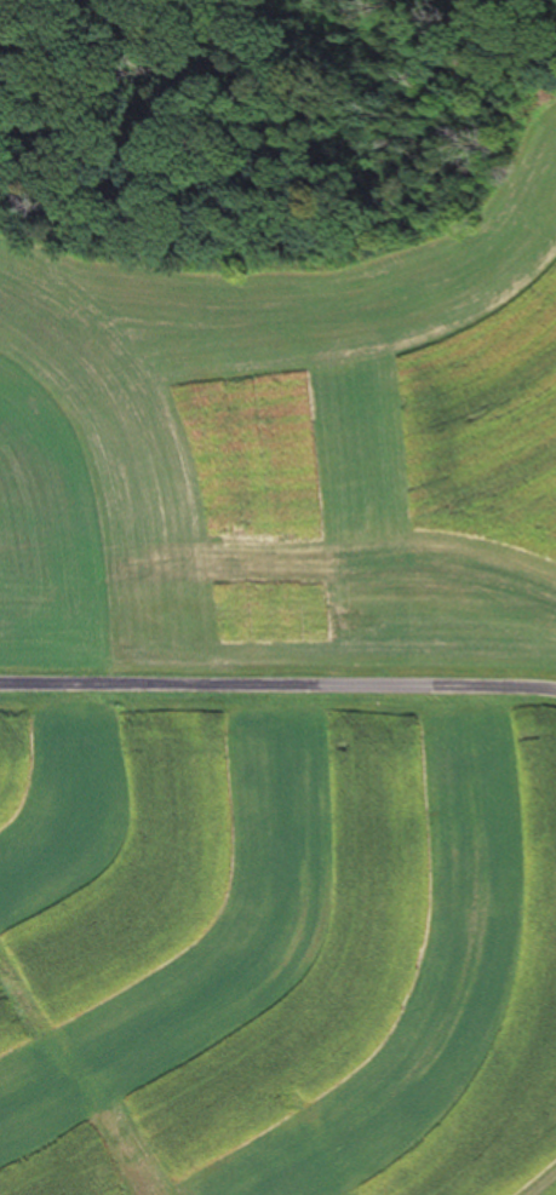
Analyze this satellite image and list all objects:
road: (277, 689)

